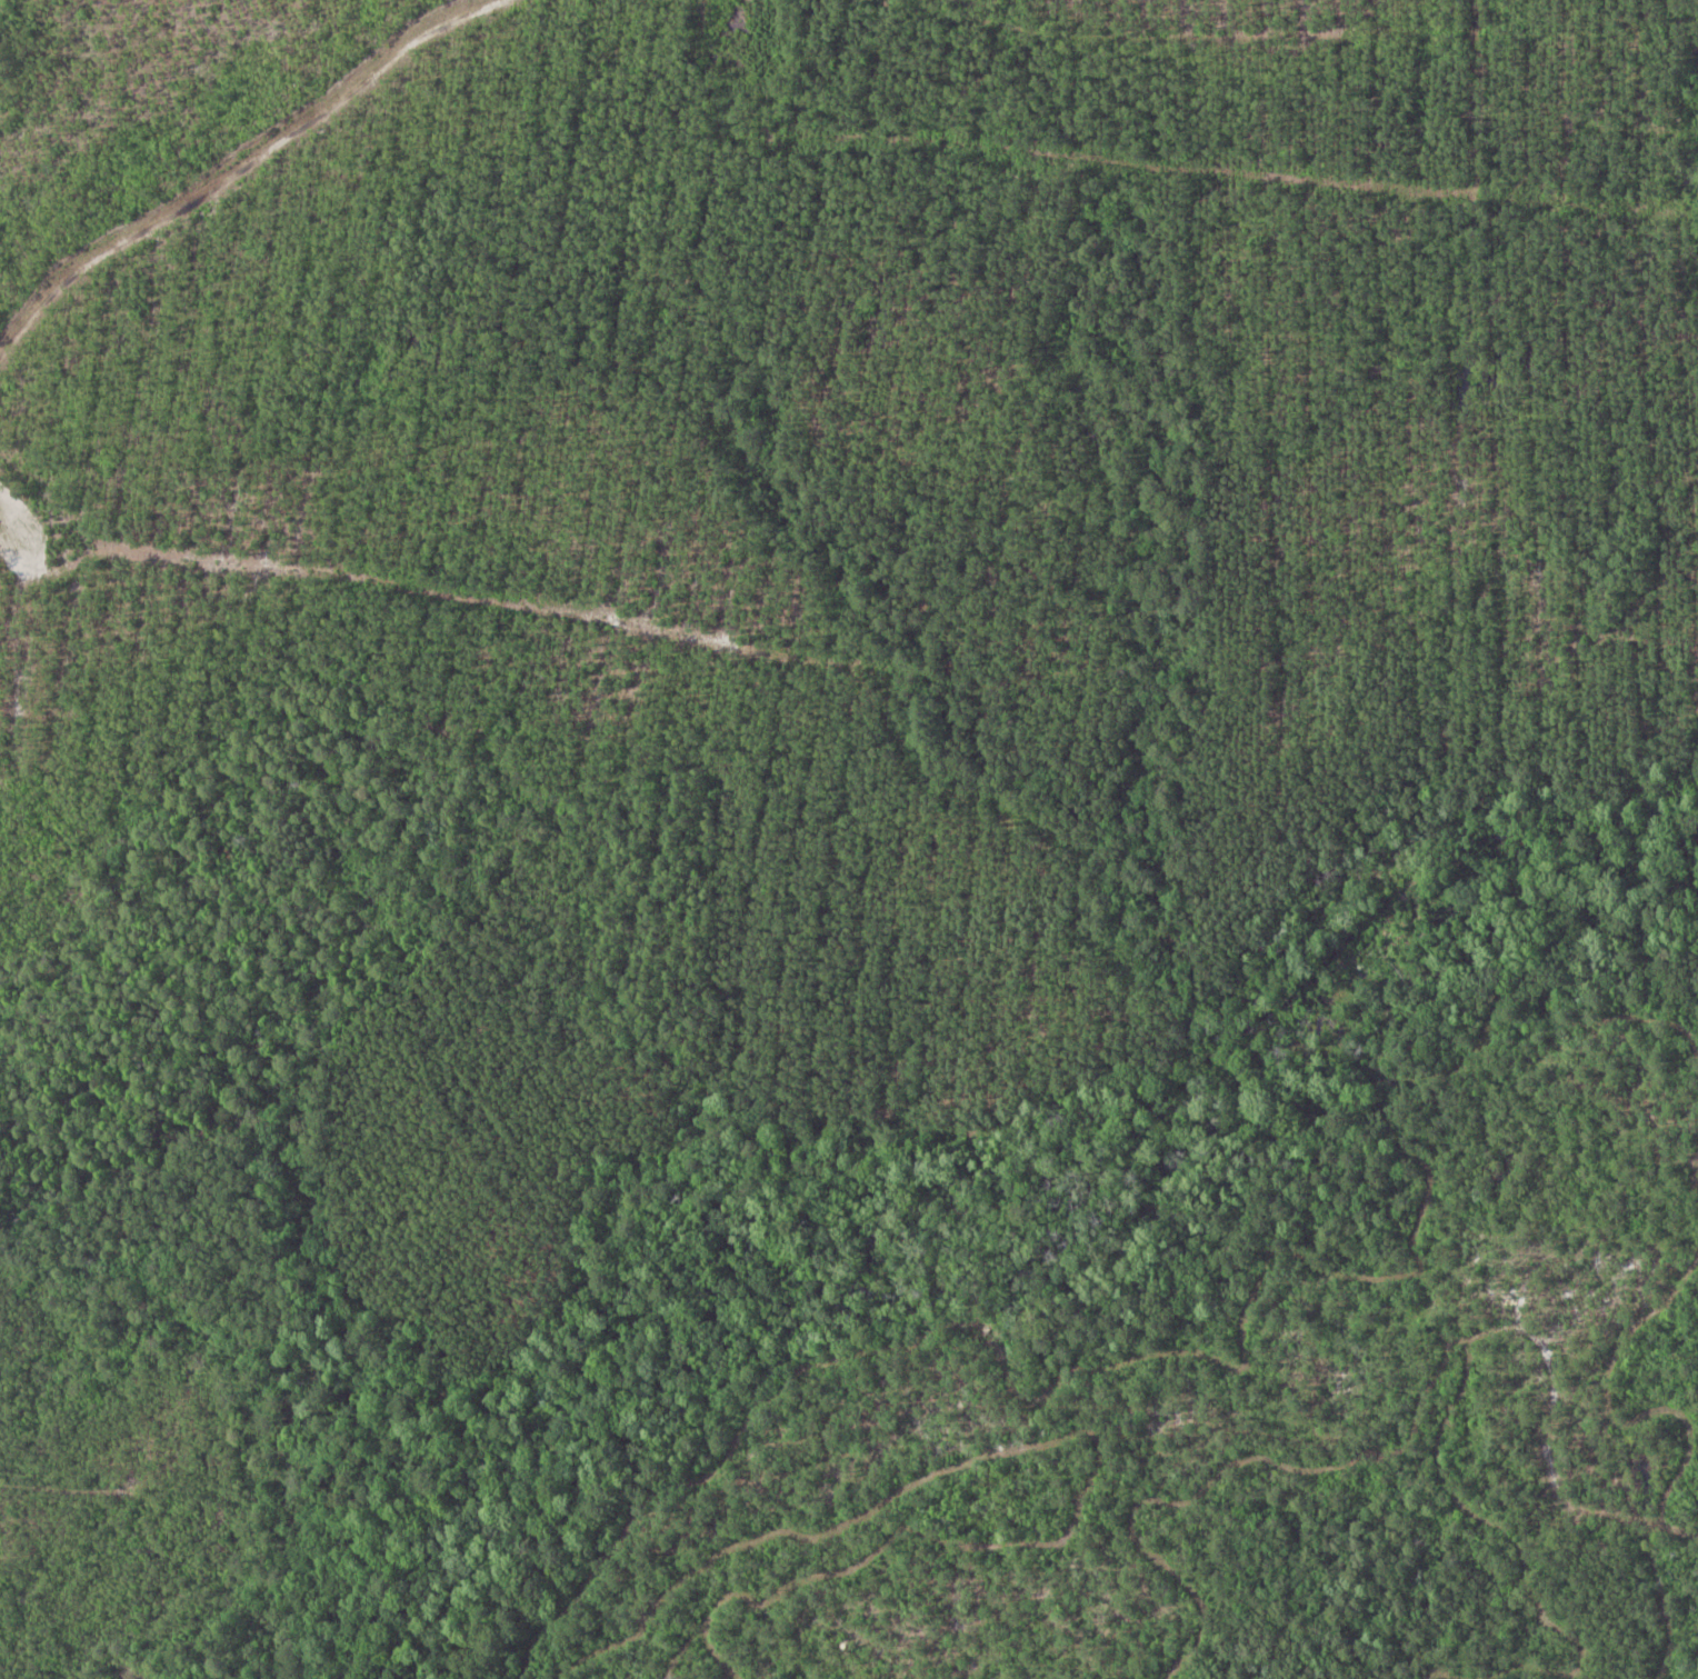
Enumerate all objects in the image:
road: (266, 160)
road: (100, 1496)

